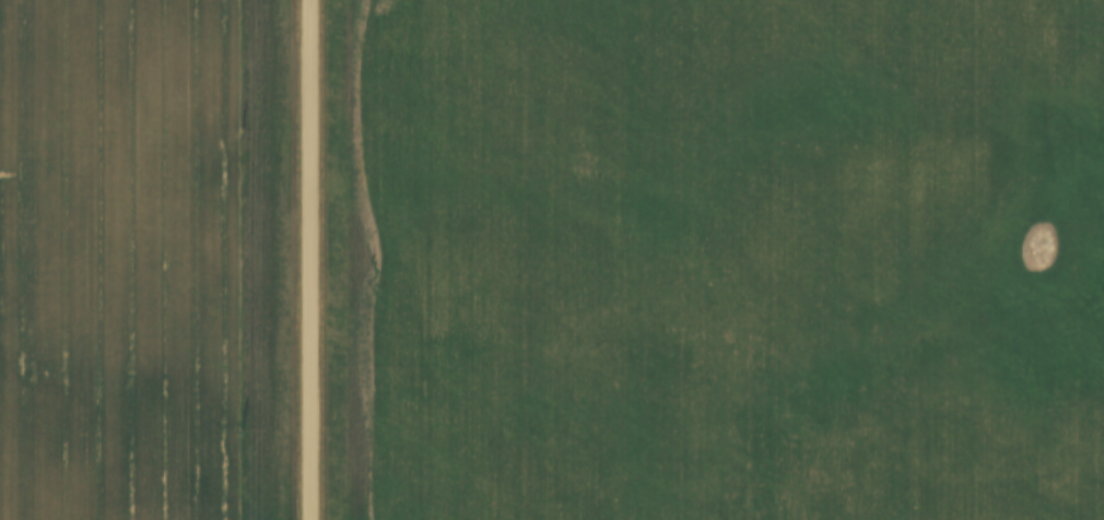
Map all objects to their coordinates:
road: (309, 260)

